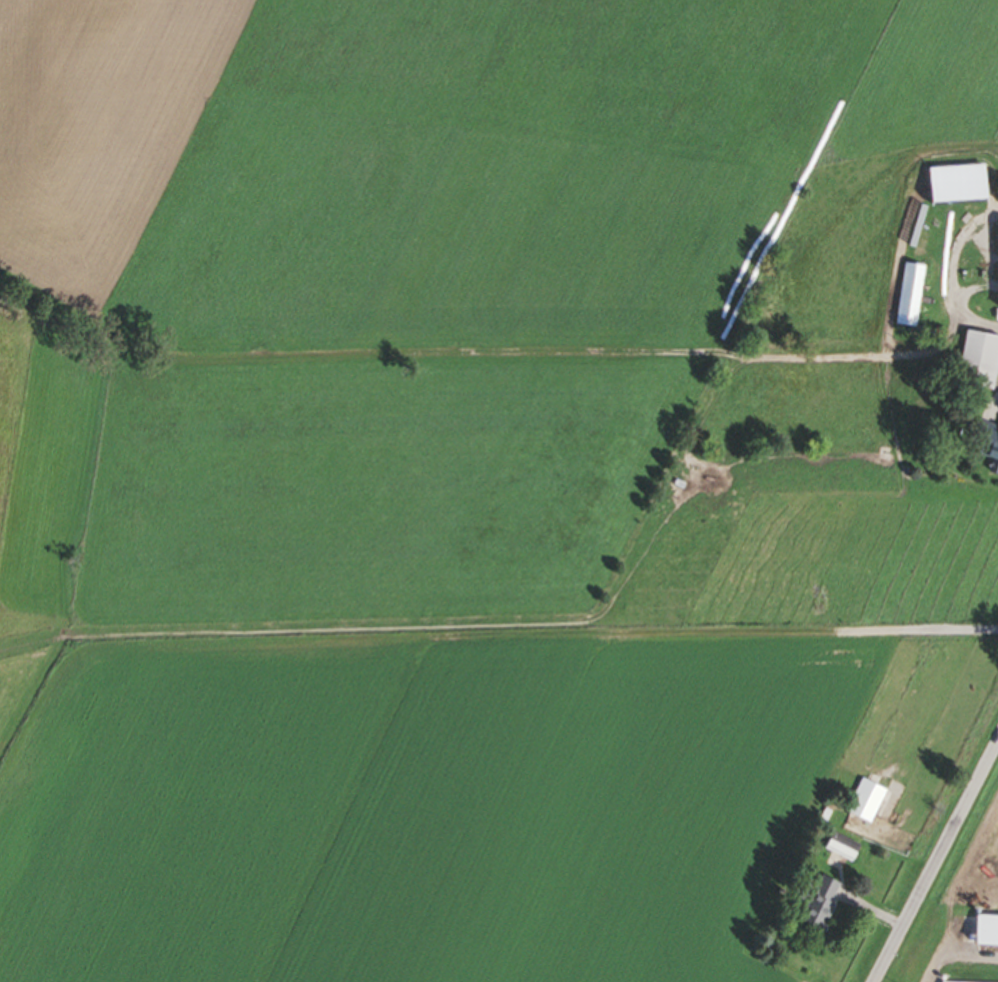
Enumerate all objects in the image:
road: (948, 274)
building: (997, 280)
building: (910, 297)
building: (978, 363)
building: (988, 448)
building: (865, 803)
building: (839, 849)
road: (936, 861)
building: (818, 907)

